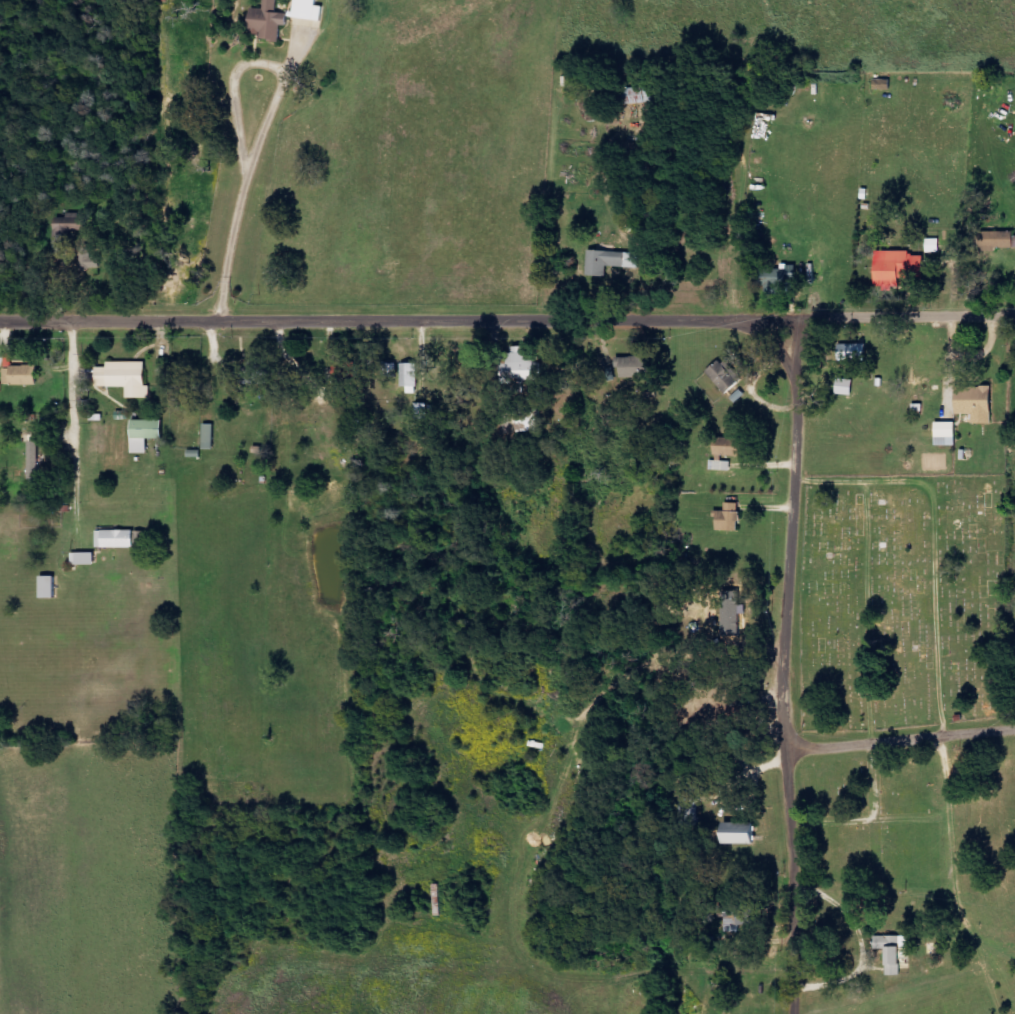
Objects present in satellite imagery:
building: (311, 10)
building: (271, 21)
building: (643, 95)
building: (69, 229)
building: (996, 240)
building: (934, 245)
road: (355, 250)
building: (91, 260)
building: (604, 261)
building: (896, 267)
building: (778, 275)
road: (507, 320)
building: (851, 352)
building: (633, 367)
building: (520, 368)
building: (341, 372)
building: (23, 376)
building: (724, 376)
building: (412, 377)
building: (128, 378)
road: (117, 383)
building: (973, 403)
building: (424, 411)
building: (945, 433)
building: (149, 434)
building: (211, 437)
building: (723, 448)
building: (720, 465)
building: (38, 466)
building: (728, 518)
building: (119, 539)
building: (86, 558)
building: (51, 586)
park: (902, 597)
road: (783, 666)
road: (900, 741)
building: (735, 836)
building: (891, 952)

